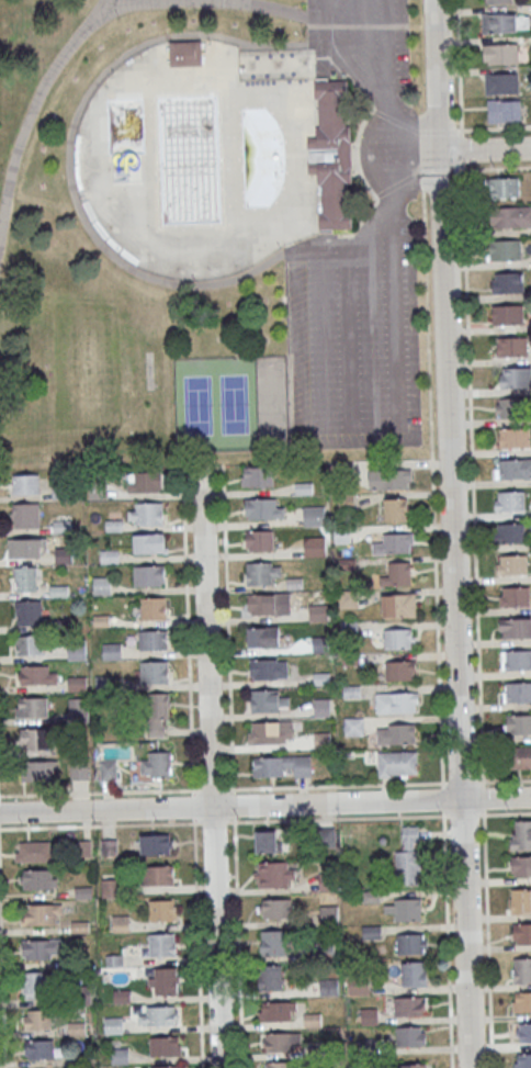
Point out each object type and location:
road: (117, 0)
building: (496, 1)
road: (226, 2)
building: (505, 22)
building: (184, 54)
building: (501, 54)
road: (460, 67)
building: (501, 83)
road: (382, 94)
road: (36, 99)
building: (504, 111)
road: (494, 127)
road: (413, 128)
road: (462, 148)
road: (485, 151)
road: (416, 153)
building: (330, 156)
road: (495, 168)
road: (416, 173)
building: (504, 187)
road: (375, 194)
building: (510, 216)
road: (372, 218)
park: (211, 233)
road: (296, 247)
road: (298, 248)
building: (505, 249)
parking lot: (360, 260)
road: (126, 265)
building: (509, 283)
road: (397, 297)
building: (507, 314)
building: (511, 347)
building: (517, 379)
park: (271, 402)
park: (215, 404)
building: (515, 408)
building: (515, 437)
building: (511, 470)
road: (473, 475)
building: (258, 477)
building: (389, 479)
road: (433, 479)
building: (25, 483)
building: (147, 483)
building: (511, 502)
building: (263, 508)
building: (395, 509)
building: (145, 514)
building: (25, 515)
building: (314, 516)
road: (451, 533)
building: (510, 533)
building: (259, 540)
building: (397, 542)
building: (149, 544)
building: (315, 547)
building: (26, 548)
building: (513, 565)
building: (398, 572)
building: (262, 573)
building: (149, 576)
building: (24, 578)
building: (101, 585)
building: (516, 597)
building: (348, 598)
building: (261, 604)
building: (398, 605)
building: (152, 608)
building: (29, 612)
building: (318, 612)
road: (228, 628)
road: (188, 629)
building: (516, 629)
building: (262, 637)
building: (398, 638)
building: (154, 640)
building: (30, 644)
building: (76, 650)
building: (111, 651)
building: (517, 661)
building: (267, 668)
building: (400, 670)
building: (154, 672)
building: (36, 674)
building: (76, 683)
building: (518, 693)
building: (265, 700)
building: (397, 701)
building: (31, 707)
building: (321, 707)
building: (78, 709)
building: (159, 715)
building: (518, 723)
building: (353, 726)
building: (271, 732)
building: (396, 733)
building: (34, 739)
building: (520, 758)
building: (397, 763)
building: (156, 765)
building: (282, 766)
road: (210, 767)
building: (38, 769)
building: (108, 771)
building: (79, 772)
road: (504, 782)
road: (463, 783)
road: (336, 786)
road: (213, 791)
road: (100, 792)
road: (234, 792)
road: (193, 794)
road: (442, 798)
road: (483, 799)
road: (234, 806)
road: (264, 806)
road: (193, 808)
road: (506, 813)
road: (464, 814)
road: (337, 819)
road: (214, 824)
road: (100, 827)
building: (521, 834)
building: (326, 837)
building: (267, 841)
building: (156, 844)
building: (34, 851)
building: (409, 856)
building: (521, 865)
building: (158, 875)
building: (274, 875)
building: (328, 875)
building: (38, 880)
building: (370, 897)
building: (520, 900)
building: (274, 908)
building: (403, 909)
building: (162, 910)
building: (329, 914)
building: (41, 917)
building: (370, 931)
building: (522, 932)
road: (447, 938)
road: (487, 938)
road: (238, 943)
building: (273, 943)
building: (411, 943)
building: (161, 944)
road: (197, 944)
building: (37, 951)
building: (522, 969)
building: (415, 974)
building: (270, 977)
building: (162, 980)
road: (2, 982)
building: (35, 985)
building: (328, 987)
building: (521, 1001)
building: (409, 1008)
building: (276, 1013)
building: (369, 1015)
building: (161, 1018)
building: (38, 1021)
building: (523, 1032)
building: (411, 1037)
building: (280, 1044)
building: (165, 1048)
building: (41, 1050)
building: (522, 1060)
building: (282, 1065)
building: (413, 1065)
building: (169, 1067)

